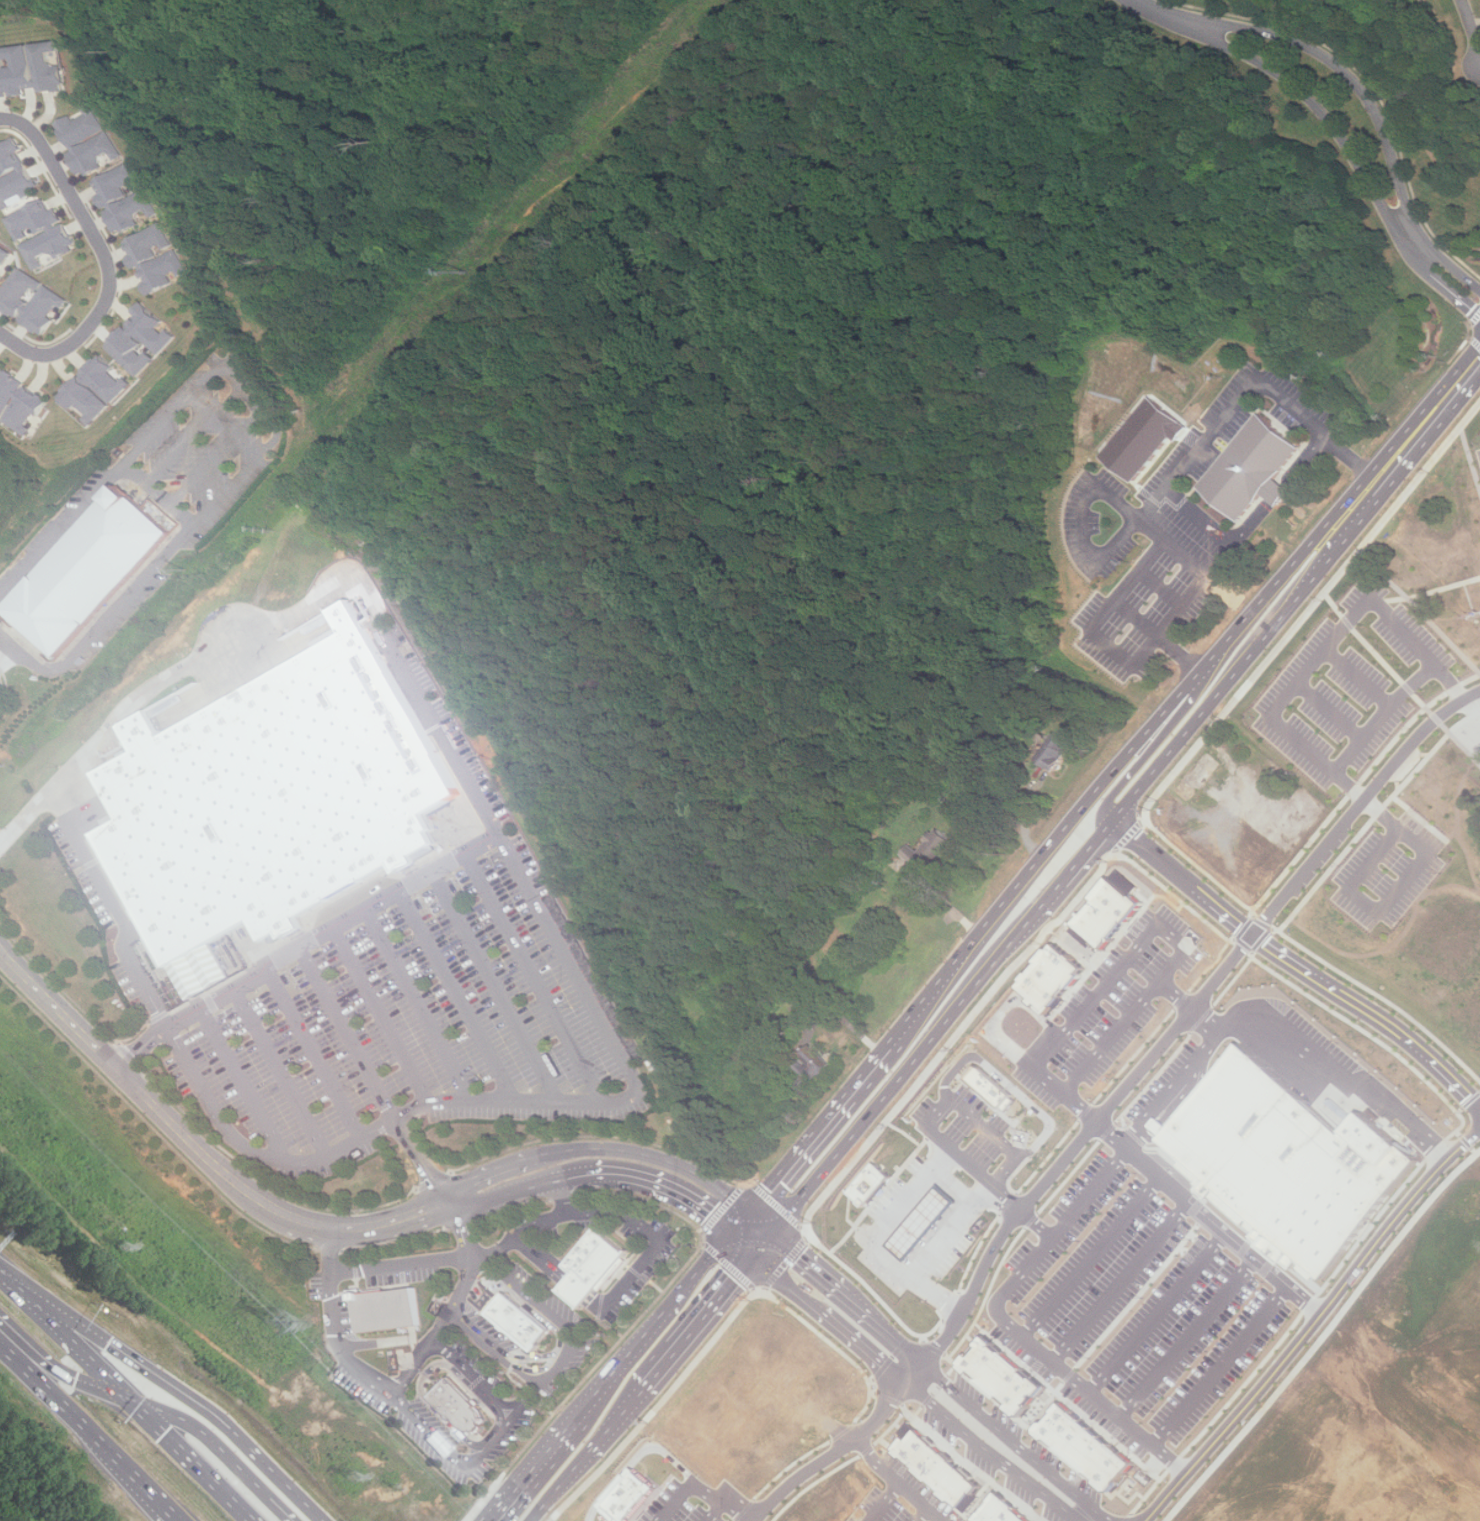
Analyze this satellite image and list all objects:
road: (1172, 17)
road: (1472, 30)
building: (33, 68)
road: (1350, 81)
road: (1320, 112)
building: (84, 126)
building: (93, 153)
building: (12, 173)
building: (114, 183)
building: (127, 210)
building: (36, 232)
building: (2, 252)
road: (98, 253)
building: (150, 257)
road: (1436, 266)
building: (43, 301)
building: (133, 339)
building: (7, 387)
building: (89, 388)
road: (252, 393)
building: (21, 408)
road: (1428, 419)
road: (196, 433)
building: (1145, 438)
road: (218, 455)
road: (1189, 457)
building: (1251, 467)
road: (108, 472)
road: (239, 478)
road: (1278, 489)
road: (159, 491)
road: (1216, 527)
road: (1172, 547)
building: (87, 570)
road: (1160, 588)
road: (100, 618)
road: (1346, 623)
road: (1162, 639)
road: (4, 648)
road: (1111, 648)
road: (191, 666)
road: (1357, 678)
road: (1447, 684)
road: (1329, 713)
road: (1381, 719)
road: (1300, 748)
building: (1057, 751)
road: (1366, 802)
building: (267, 804)
road: (53, 812)
road: (1025, 822)
road: (1415, 842)
building: (929, 851)
road: (1067, 852)
road: (402, 892)
road: (1365, 902)
road: (947, 903)
building: (1108, 913)
road: (120, 929)
road: (1141, 941)
road: (1289, 959)
building: (1052, 980)
road: (529, 986)
road: (489, 995)
road: (1174, 996)
road: (449, 1004)
parking lot: (389, 1005)
road: (1002, 1010)
road: (411, 1013)
road: (1185, 1017)
road: (373, 1023)
road: (1207, 1025)
road: (855, 1027)
road: (339, 1040)
road: (163, 1042)
road: (306, 1062)
road: (1340, 1068)
building: (813, 1070)
road: (274, 1082)
road: (1008, 1083)
building: (993, 1088)
road: (236, 1090)
road: (1175, 1094)
road: (512, 1112)
road: (987, 1123)
road: (205, 1147)
road: (655, 1157)
building: (1293, 1160)
road: (414, 1169)
road: (583, 1170)
road: (491, 1172)
road: (988, 1183)
building: (871, 1184)
gas station: (871, 1187)
road: (677, 1192)
road: (510, 1193)
road: (561, 1196)
road: (1208, 1217)
road: (604, 1223)
traffic signals: (759, 1224)
building: (927, 1225)
road: (745, 1230)
road: (1061, 1230)
road: (455, 1234)
traffic signals: (732, 1237)
road: (756, 1240)
road: (743, 1246)
power tower: (123, 1247)
road: (324, 1249)
traffic signals: (754, 1256)
road: (551, 1257)
road: (1094, 1258)
road: (710, 1260)
road: (801, 1260)
road: (546, 1261)
road: (896, 1262)
road: (475, 1263)
road: (539, 1265)
road: (397, 1268)
building: (593, 1272)
parking lot: (631, 1280)
road: (1122, 1282)
road: (587, 1285)
road: (785, 1286)
road: (583, 1290)
road: (944, 1293)
road: (578, 1295)
road: (604, 1298)
parking lot: (456, 1300)
road: (458, 1300)
road: (527, 1300)
road: (600, 1303)
road: (595, 1310)
building: (385, 1312)
road: (1159, 1314)
parking lot: (338, 1321)
road: (698, 1321)
power tower: (276, 1322)
road: (654, 1322)
road: (1313, 1326)
building: (517, 1327)
road: (885, 1333)
parking lot: (477, 1338)
traffic signals: (104, 1339)
road: (1189, 1340)
road: (338, 1345)
road: (371, 1349)
road: (493, 1351)
road: (866, 1351)
road: (560, 1363)
road: (1221, 1367)
road: (411, 1370)
road: (472, 1376)
parking lot: (473, 1379)
road: (920, 1379)
building: (1013, 1379)
road: (168, 1385)
traffic signals: (83, 1388)
road: (599, 1390)
road: (1089, 1392)
road: (128, 1397)
road: (524, 1400)
road: (153, 1406)
building: (461, 1408)
road: (448, 1418)
road: (616, 1419)
building: (728, 1419)
parking lot: (438, 1425)
road: (838, 1432)
road: (89, 1433)
road: (1017, 1445)
traffic signals: (181, 1446)
building: (1092, 1448)
road: (995, 1454)
road: (837, 1456)
road: (633, 1458)
road: (456, 1461)
road: (533, 1469)
building: (948, 1470)
power tower: (352, 1476)
road: (900, 1483)
road: (701, 1485)
road: (559, 1486)
building: (628, 1495)
road: (886, 1503)
road: (718, 1512)
building: (1013, 1512)
road: (928, 1516)

